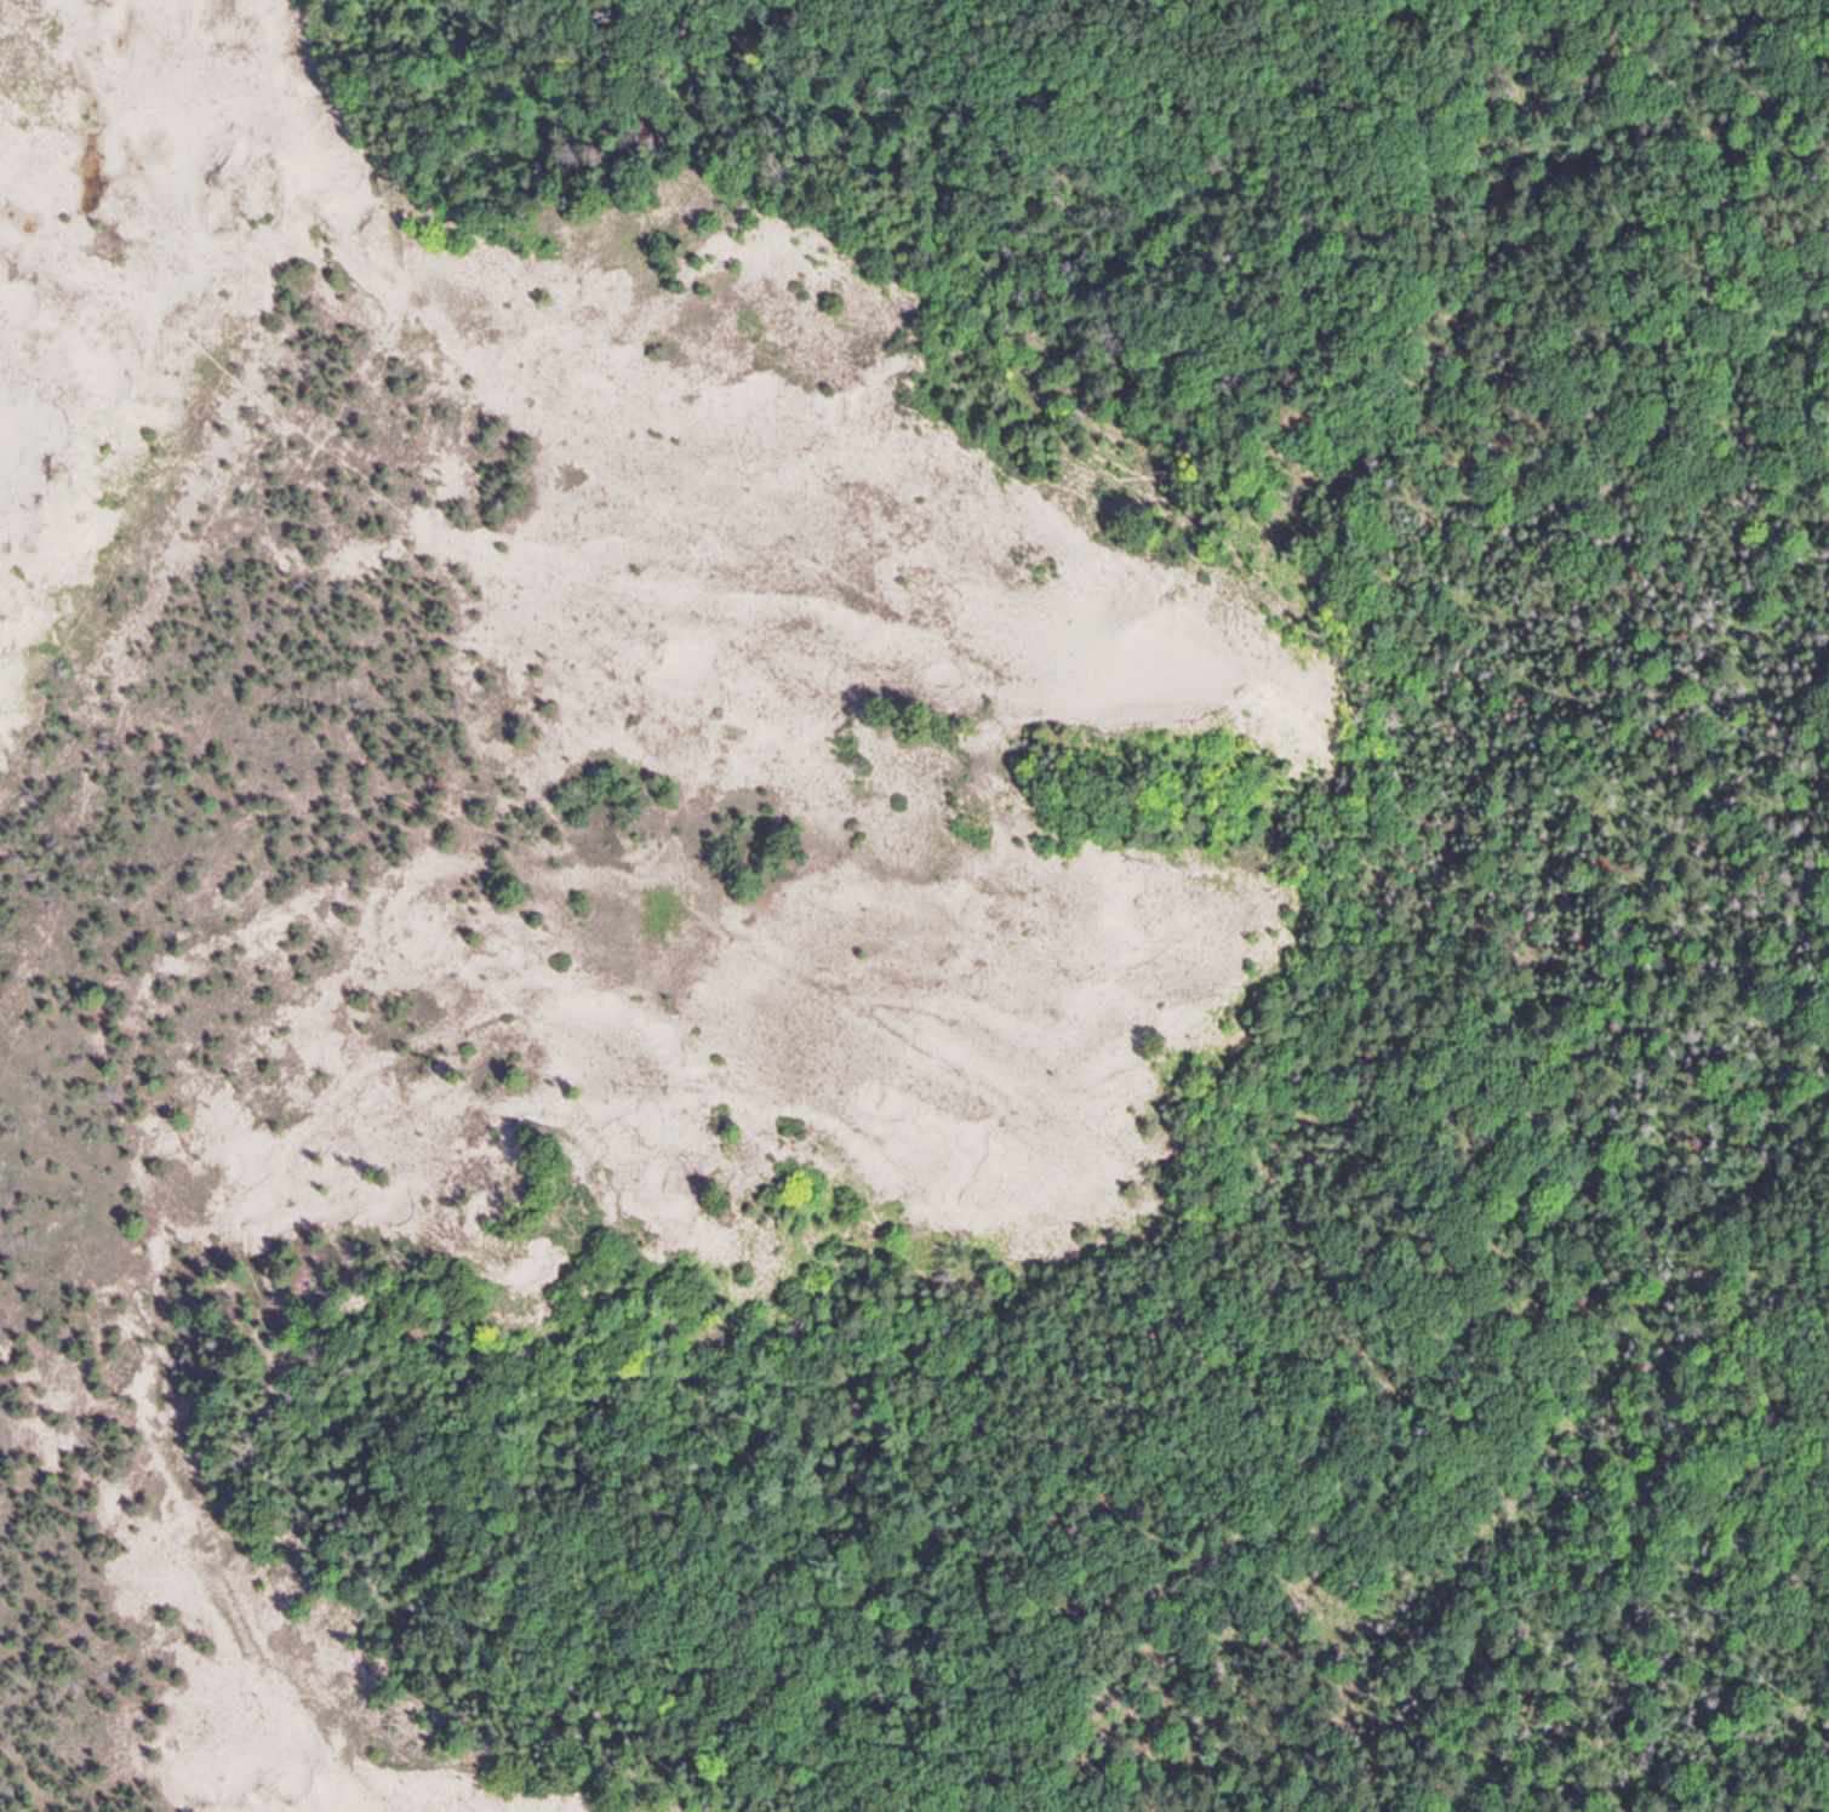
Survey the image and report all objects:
road: (1595, 731)

